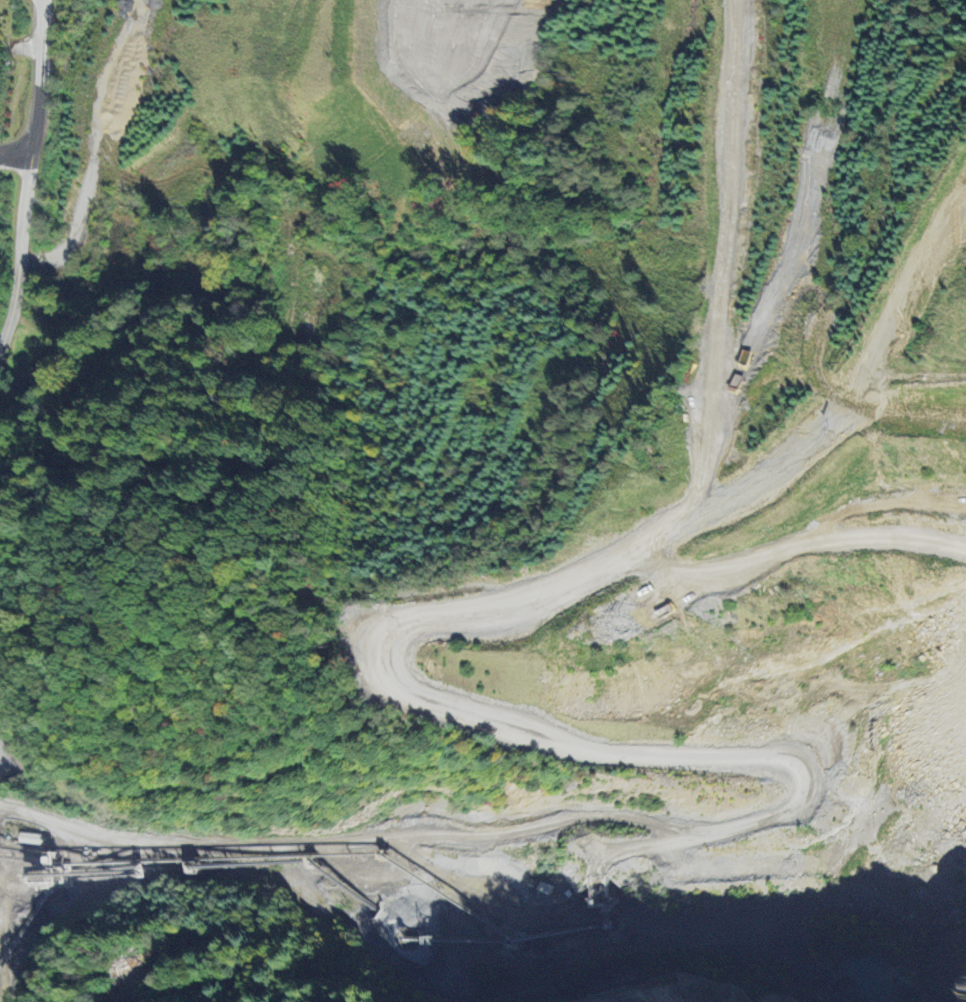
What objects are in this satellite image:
quarry: (390, 47)
road: (28, 173)
road: (741, 258)
building: (26, 387)
quarry: (703, 734)
road: (138, 918)

